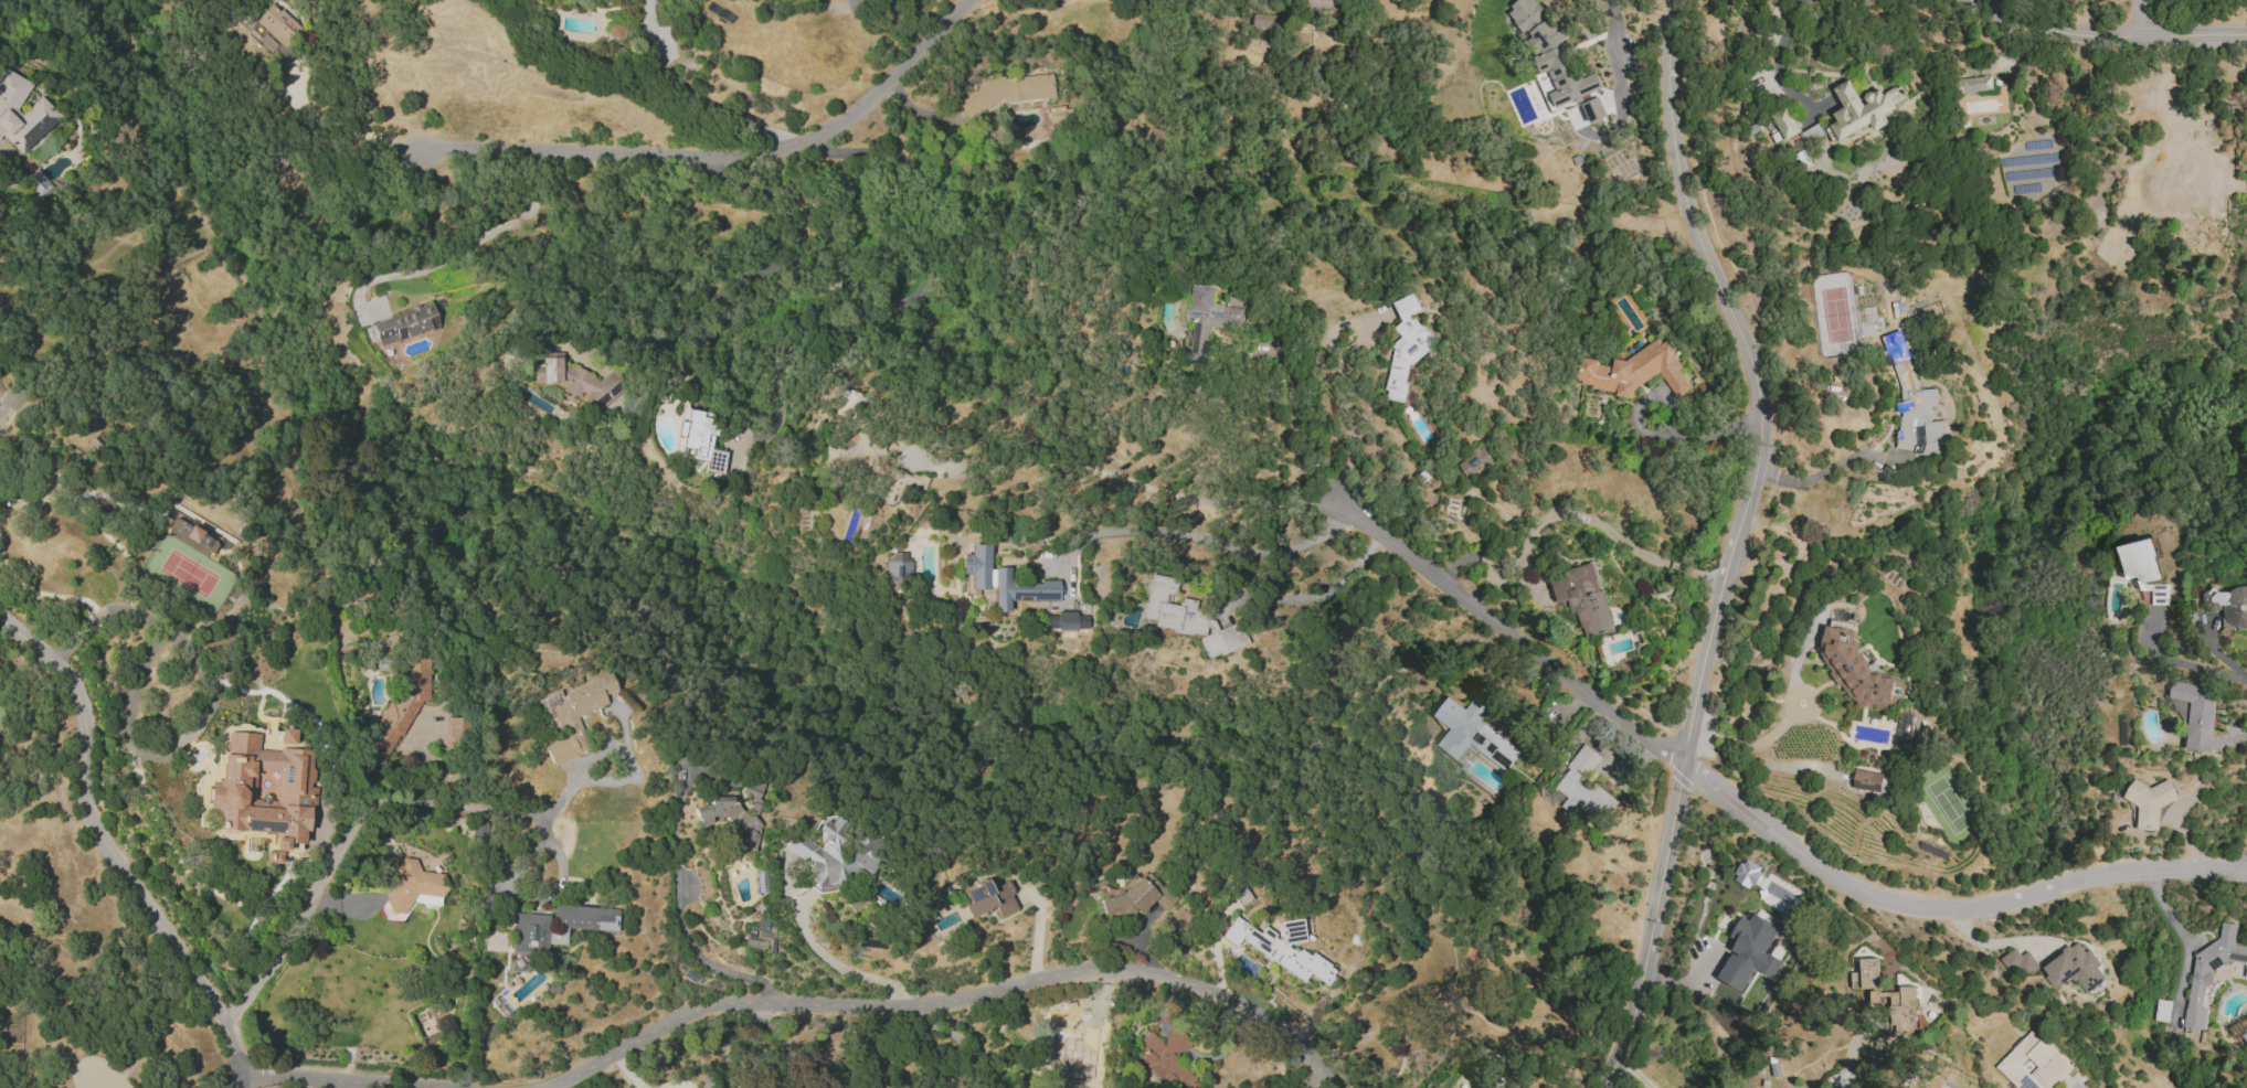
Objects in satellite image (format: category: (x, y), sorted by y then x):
building: (1322, 3)
road: (2142, 18)
building: (1268, 22)
building: (273, 30)
road: (2103, 33)
building: (1552, 54)
road: (1776, 58)
road: (2164, 74)
building: (1006, 90)
road: (691, 103)
building: (1863, 109)
building: (1594, 110)
building: (21, 113)
building: (1785, 122)
road: (343, 127)
building: (1811, 134)
road: (720, 156)
building: (2180, 170)
building: (2032, 174)
building: (38, 183)
road: (476, 239)
building: (2116, 248)
building: (1209, 319)
building: (403, 323)
building: (1406, 348)
building: (1634, 371)
building: (573, 380)
building: (12, 401)
building: (846, 402)
road: (1294, 404)
road: (1344, 405)
building: (1915, 407)
road: (1654, 434)
building: (695, 439)
building: (1475, 462)
road: (1820, 474)
road: (1120, 493)
building: (191, 533)
road: (1196, 534)
road: (1735, 543)
road: (1491, 562)
building: (897, 565)
road: (710, 570)
building: (2143, 572)
building: (1001, 579)
road: (1313, 597)
building: (1584, 599)
building: (2228, 607)
building: (1187, 618)
building: (1069, 620)
road: (2184, 665)
building: (1855, 671)
road: (208, 703)
building: (399, 708)
building: (2197, 714)
building: (572, 716)
building: (454, 728)
building: (1472, 733)
building: (287, 735)
road: (1753, 743)
building: (1869, 781)
building: (1583, 788)
building: (263, 790)
building: (753, 793)
building: (2150, 802)
building: (729, 818)
road: (1752, 818)
road: (350, 831)
road: (110, 850)
building: (830, 854)
building: (1748, 873)
building: (1241, 895)
building: (1136, 896)
building: (988, 898)
building: (554, 928)
road: (685, 937)
road: (2183, 941)
building: (1281, 951)
building: (1750, 952)
building: (2018, 962)
road: (841, 968)
building: (2075, 968)
building: (2201, 974)
building: (1887, 996)
road: (947, 999)
building: (2245, 1035)
road: (957, 1038)
road: (783, 1042)
building: (1069, 1053)
building: (1167, 1058)
road: (1851, 1059)
building: (2033, 1064)
road: (1634, 1073)
road: (314, 1082)
building: (1492, 1086)

